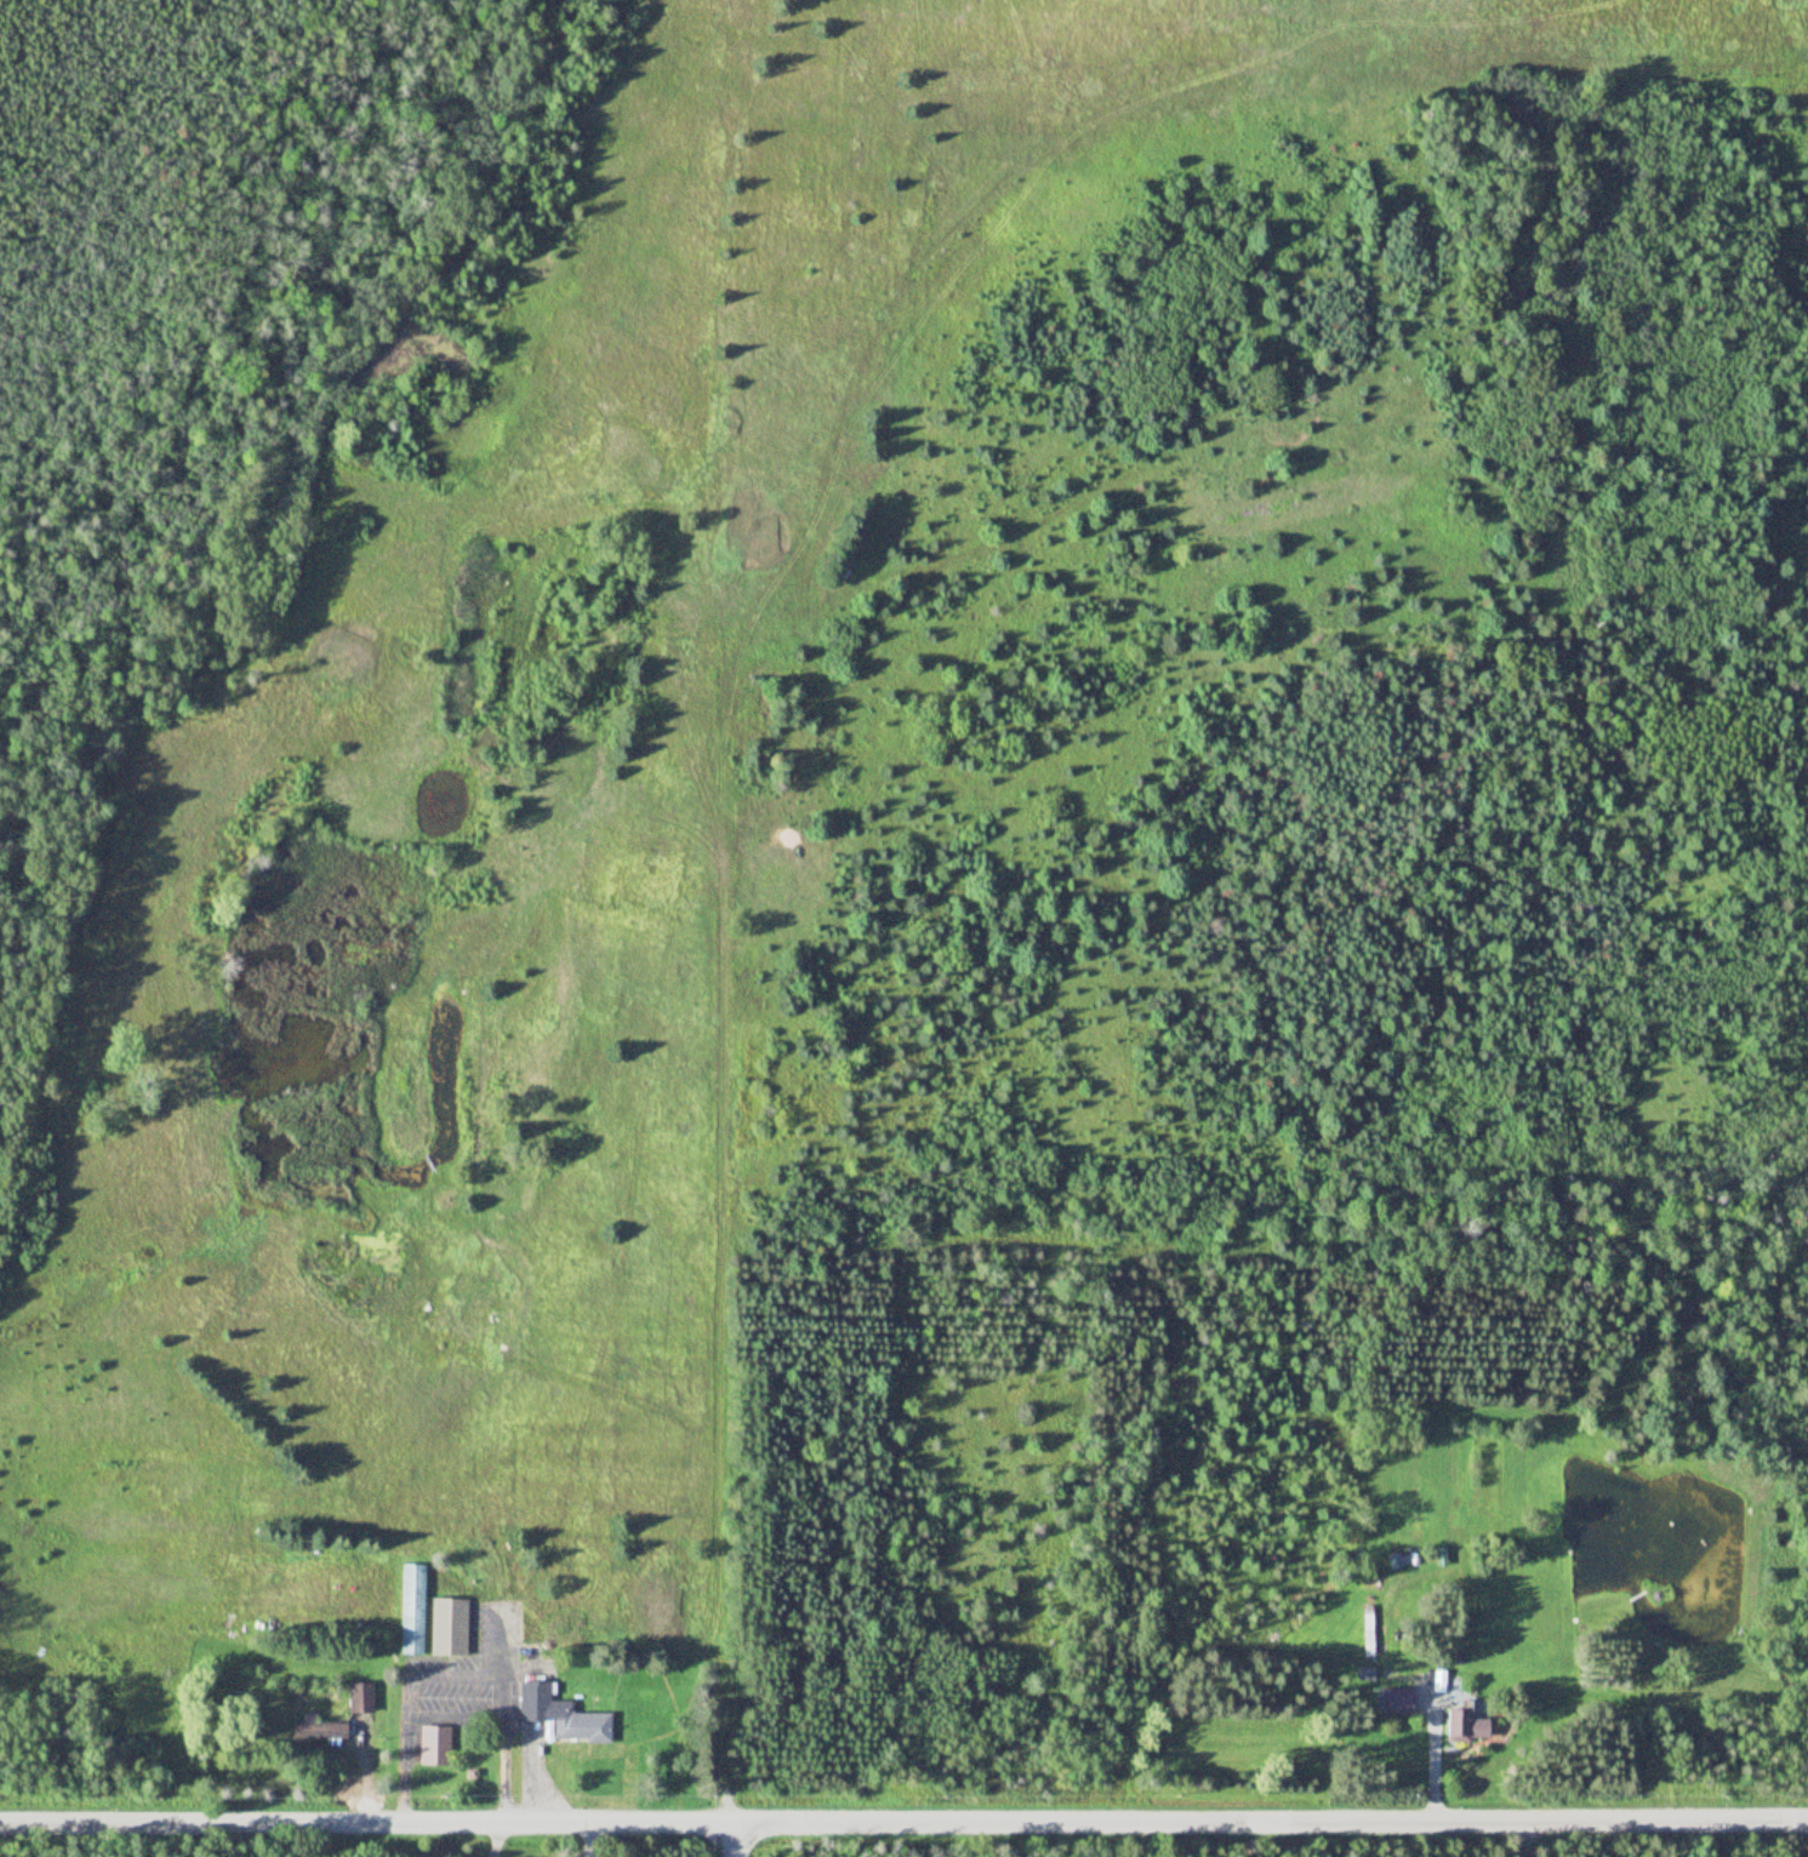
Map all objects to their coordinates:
building: (411, 1611)
parking lot: (449, 1691)
building: (359, 1699)
building: (1401, 1702)
building: (561, 1716)
building: (1468, 1726)
building: (320, 1731)
building: (434, 1747)
road: (903, 1822)
road: (492, 1839)
road: (732, 1840)

